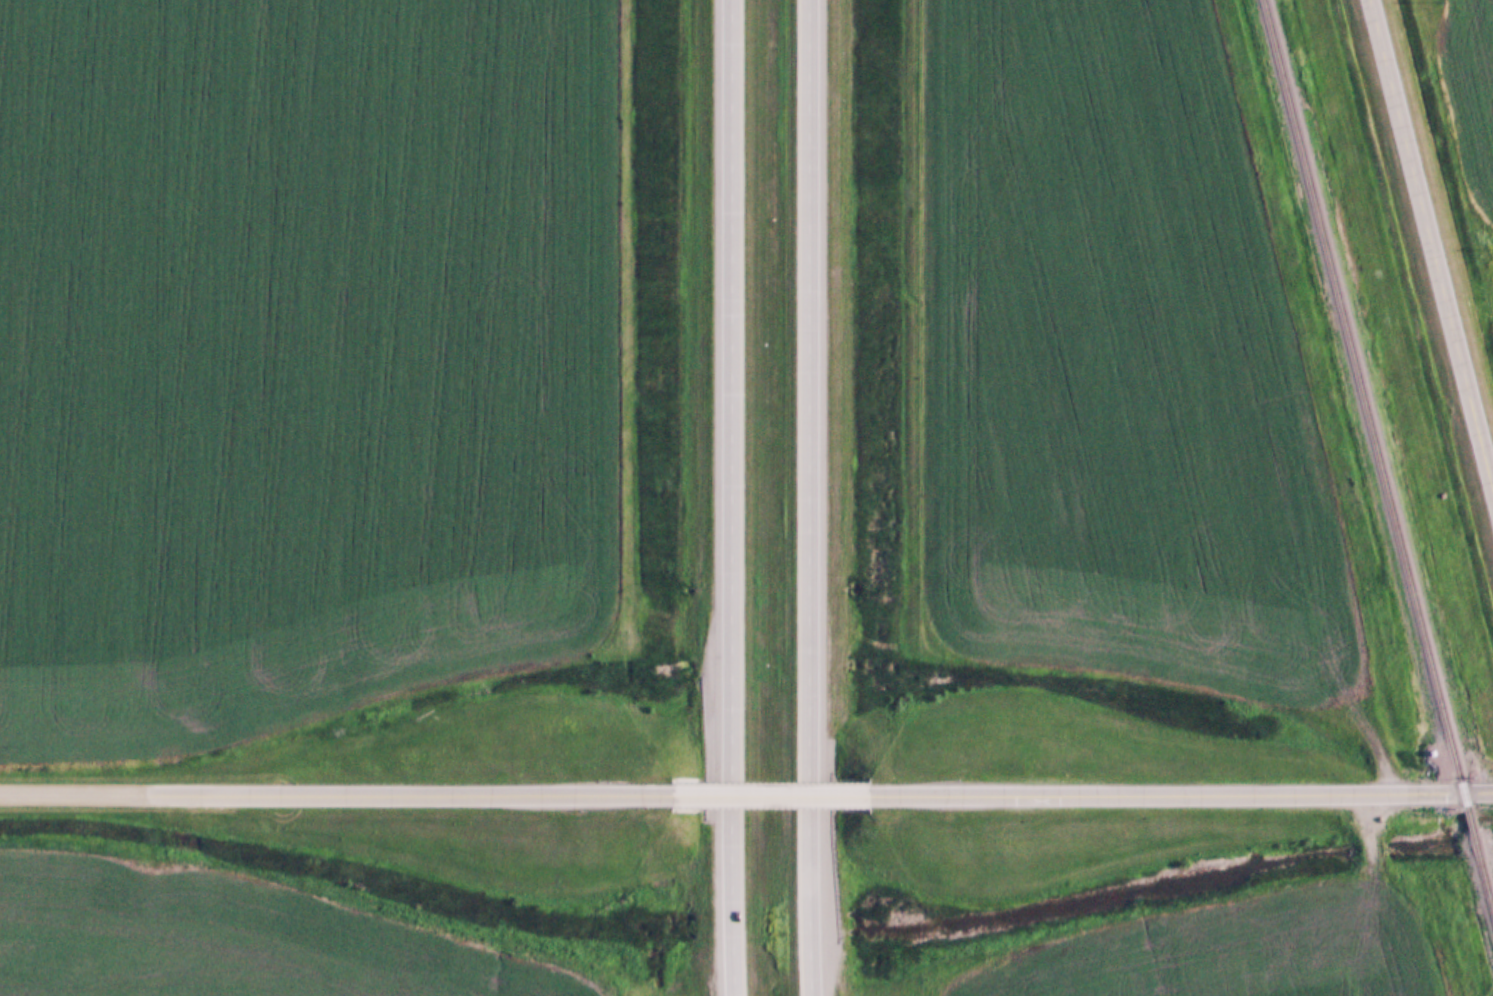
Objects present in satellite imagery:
road: (1430, 254)
railway: (1376, 463)
road: (732, 498)
road: (802, 498)
road: (82, 789)
road: (418, 792)
road: (1180, 792)
road: (769, 794)

